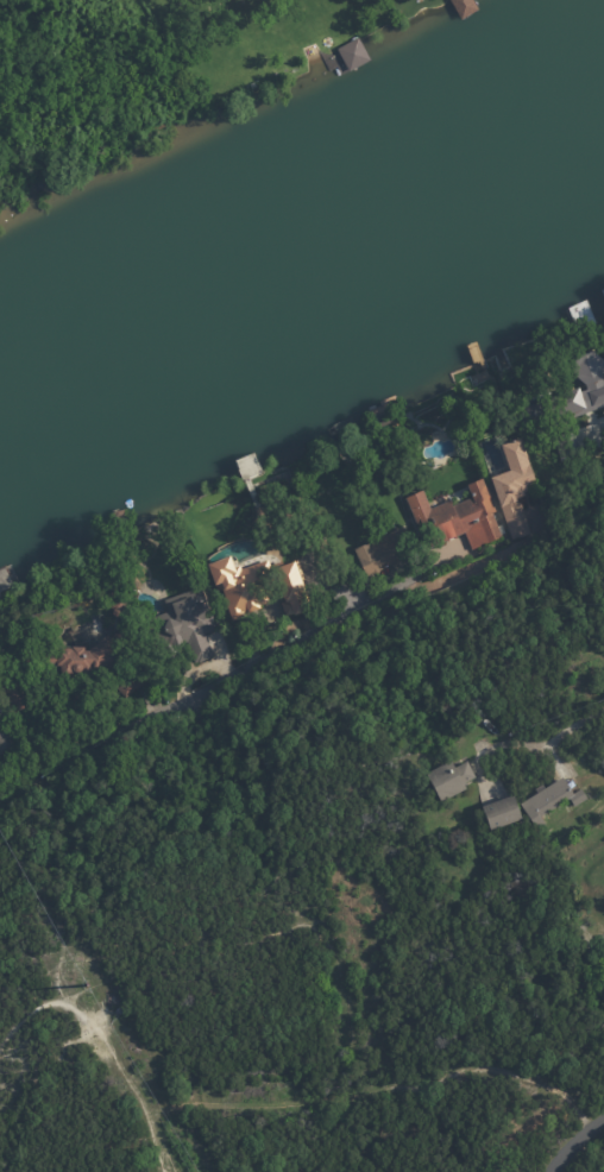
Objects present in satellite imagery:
building: (463, 7)
building: (352, 55)
river: (302, 237)
building: (589, 386)
building: (512, 491)
building: (457, 521)
building: (320, 546)
building: (385, 555)
road: (482, 565)
building: (256, 591)
building: (117, 610)
building: (181, 630)
building: (89, 663)
road: (224, 681)
building: (14, 700)
road: (549, 736)
building: (4, 744)
building: (448, 780)
road: (1, 788)
building: (549, 802)
building: (499, 814)
power tower: (83, 984)
road: (581, 1148)

